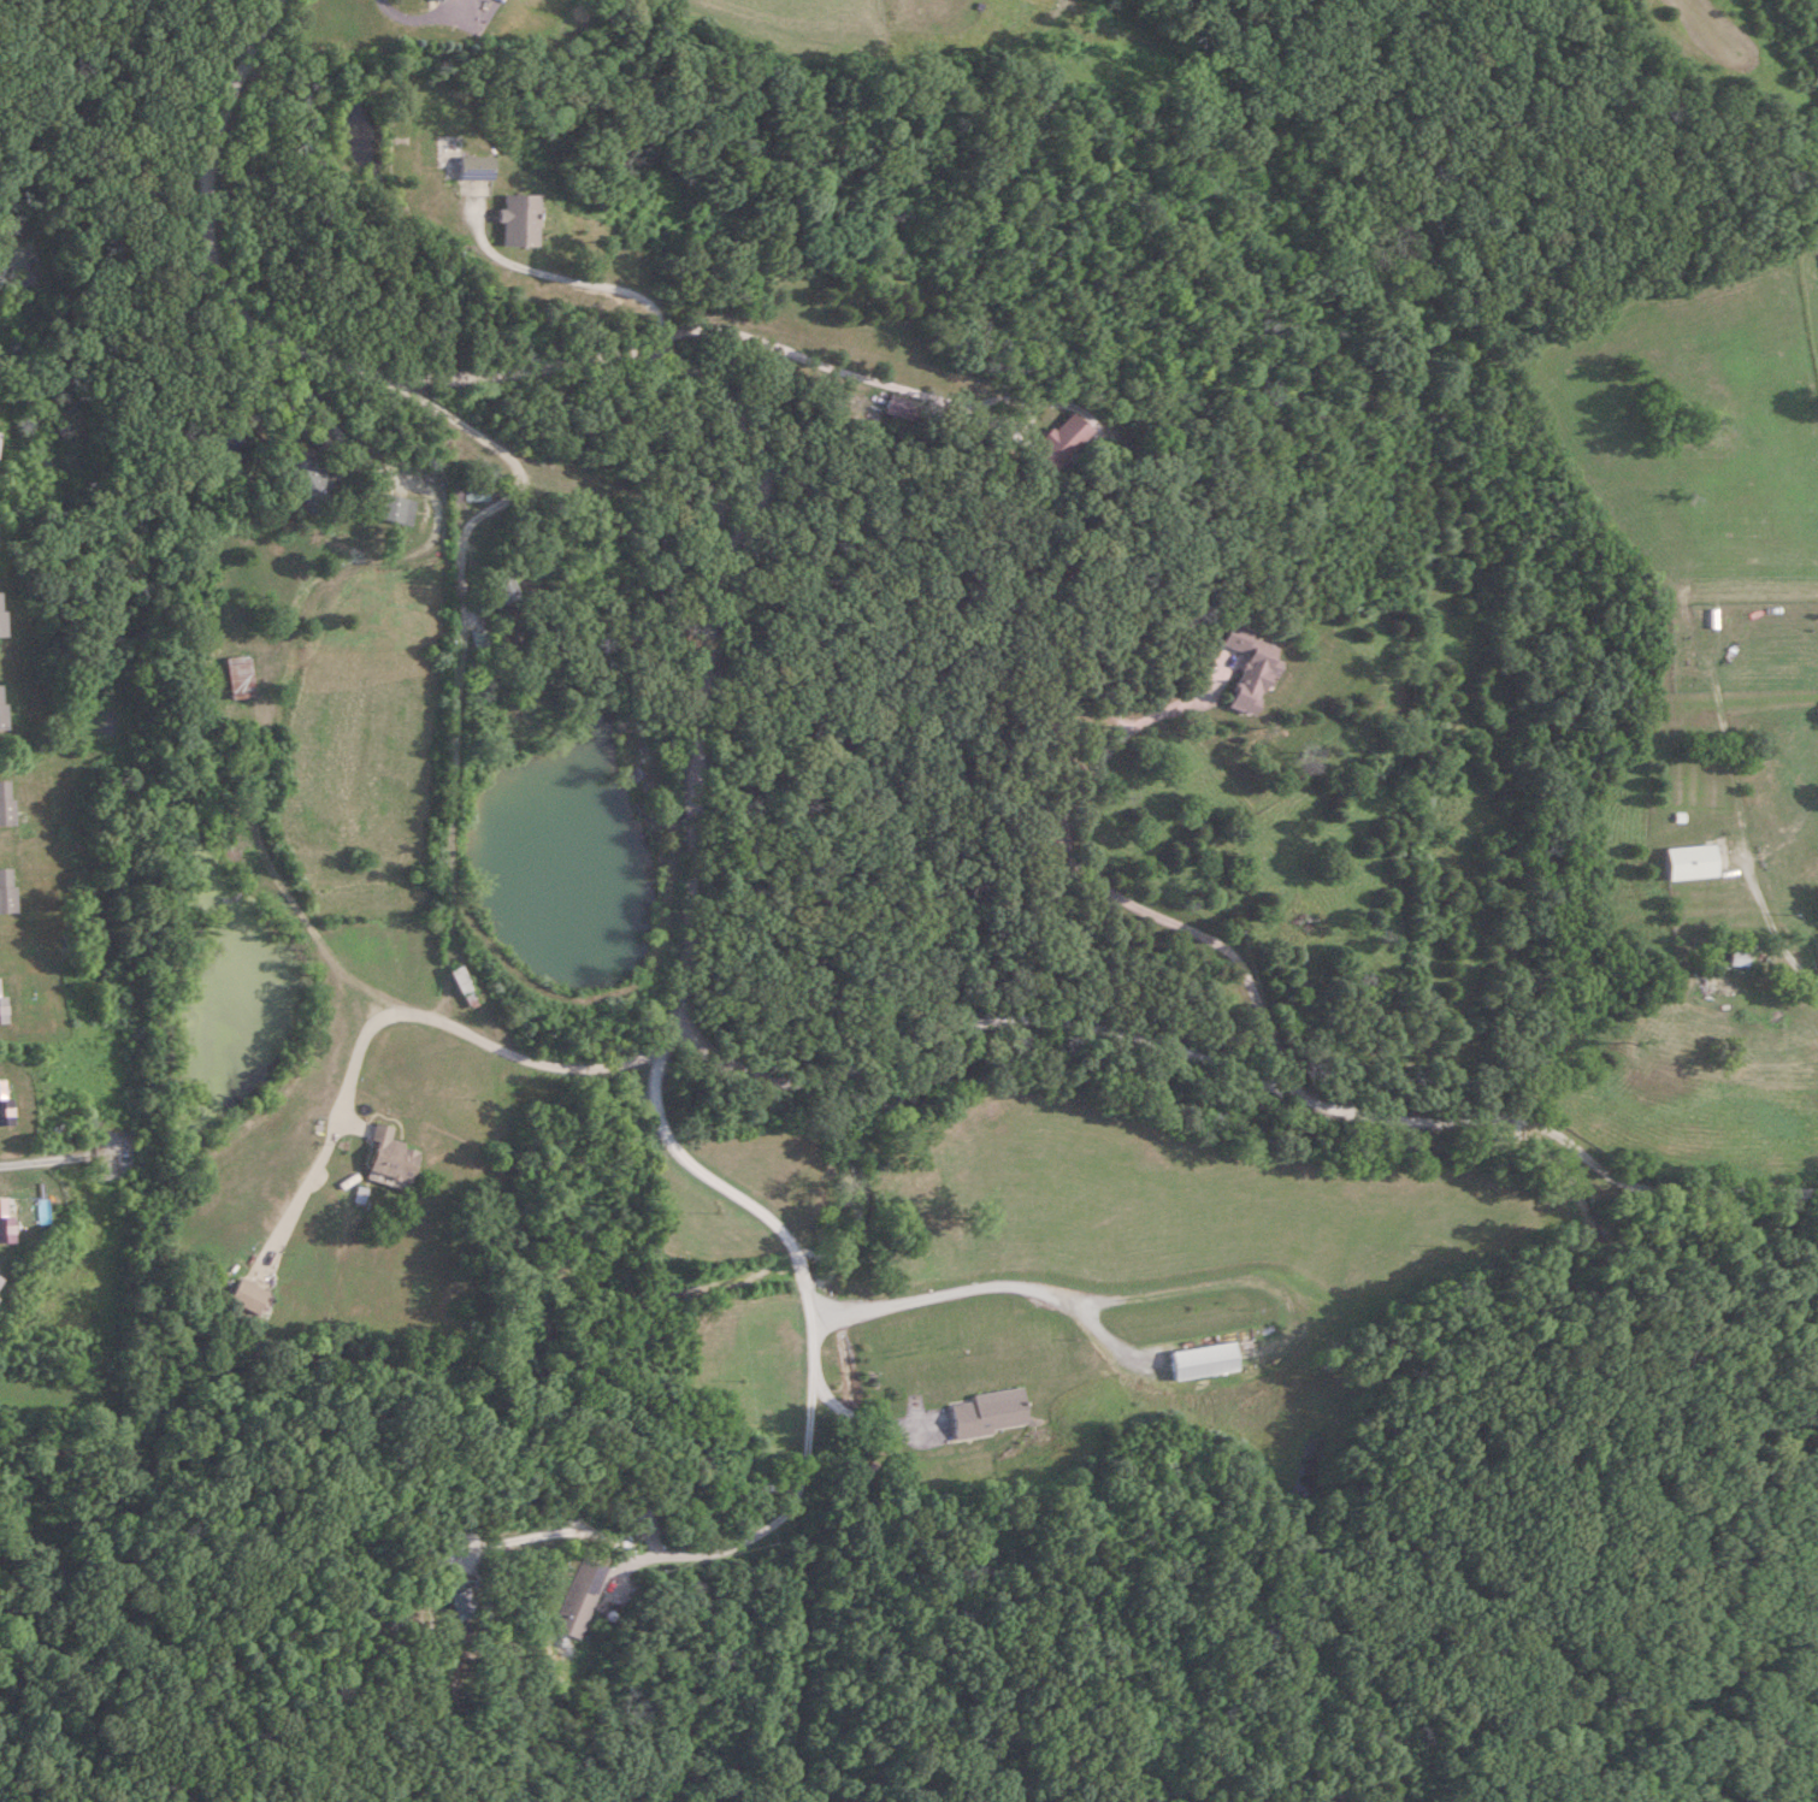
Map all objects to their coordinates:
building: (439, 0)
building: (476, 169)
building: (520, 221)
road: (572, 276)
road: (843, 368)
road: (303, 389)
building: (903, 407)
building: (1059, 441)
building: (307, 480)
building: (478, 494)
building: (399, 508)
building: (503, 587)
building: (0, 626)
building: (482, 638)
road: (462, 644)
building: (1252, 670)
building: (242, 674)
building: (0, 705)
building: (5, 800)
building: (1693, 861)
road: (690, 868)
building: (7, 888)
road: (1127, 899)
road: (1773, 923)
building: (1739, 958)
building: (465, 987)
building: (1, 1000)
road: (401, 1015)
building: (390, 1157)
road: (40, 1163)
road: (990, 1286)
building: (250, 1296)
building: (1206, 1361)
road: (811, 1395)
building: (991, 1413)
road: (864, 1414)
building: (583, 1599)

